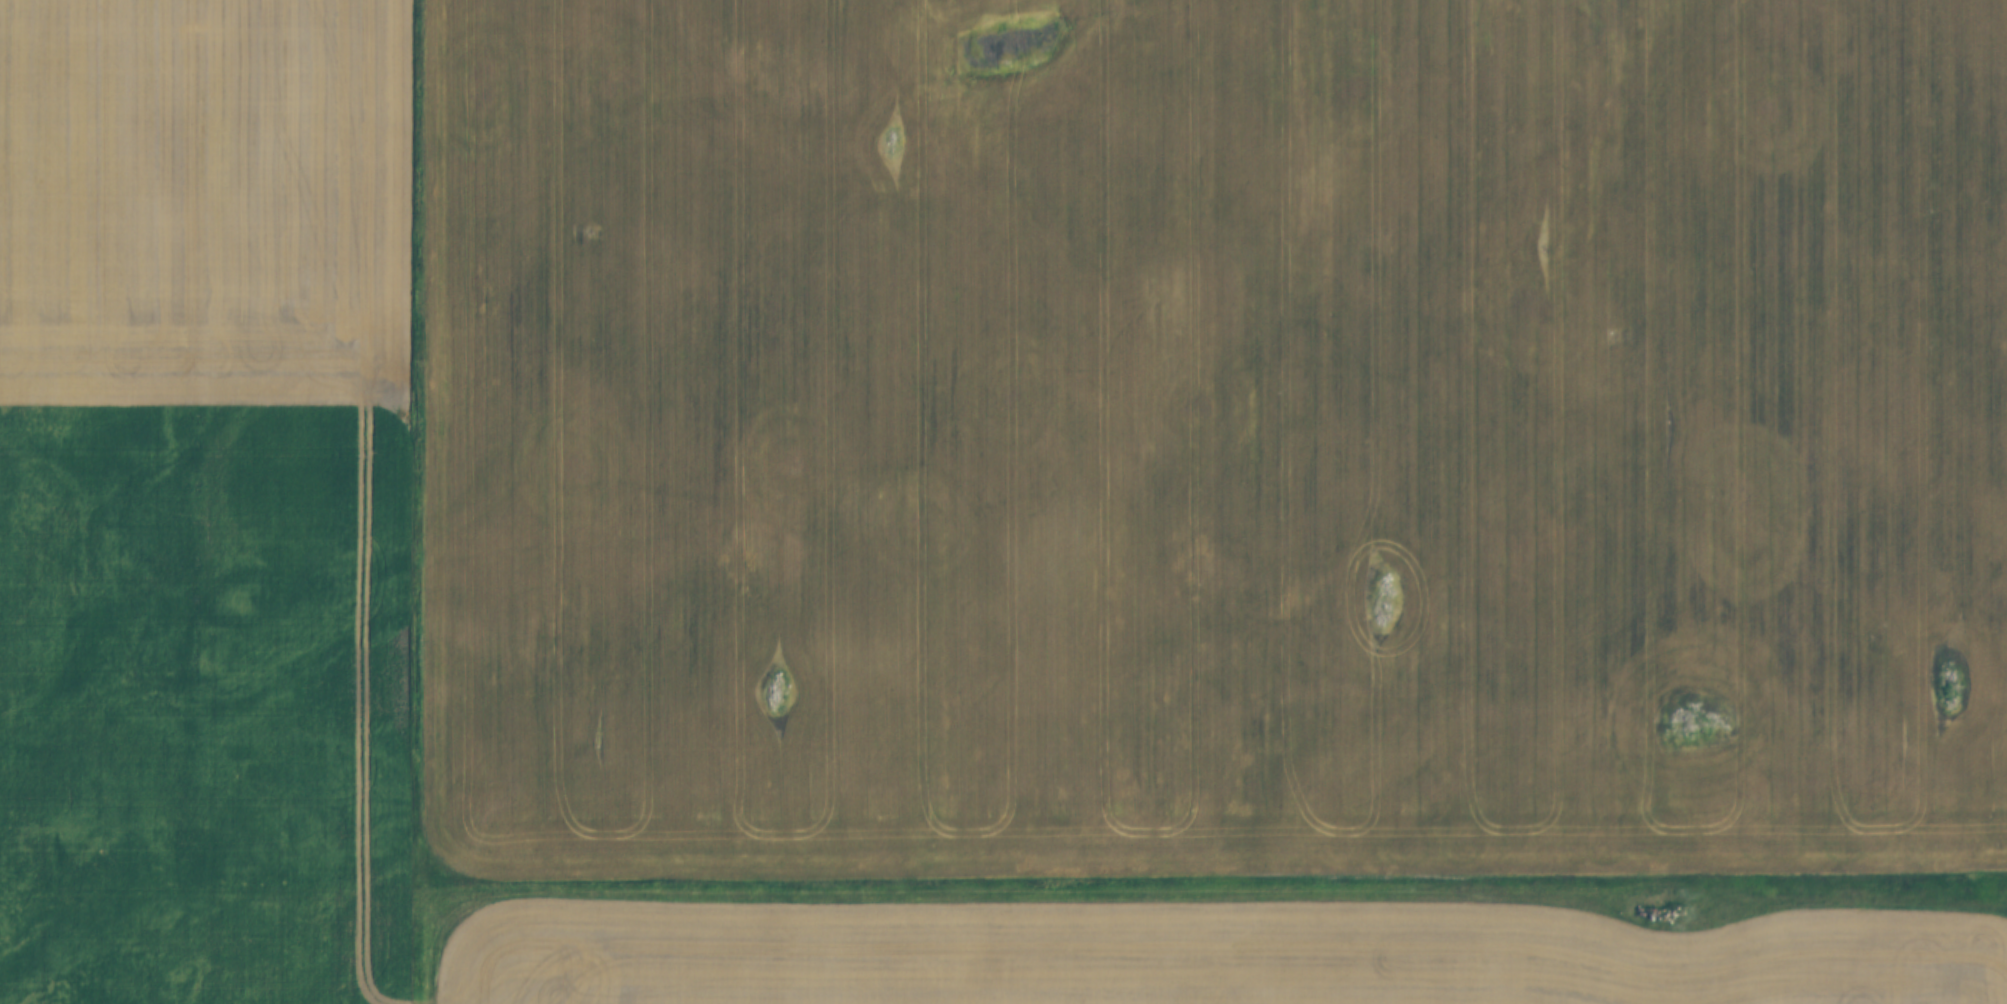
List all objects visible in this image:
road: (1181, 901)

